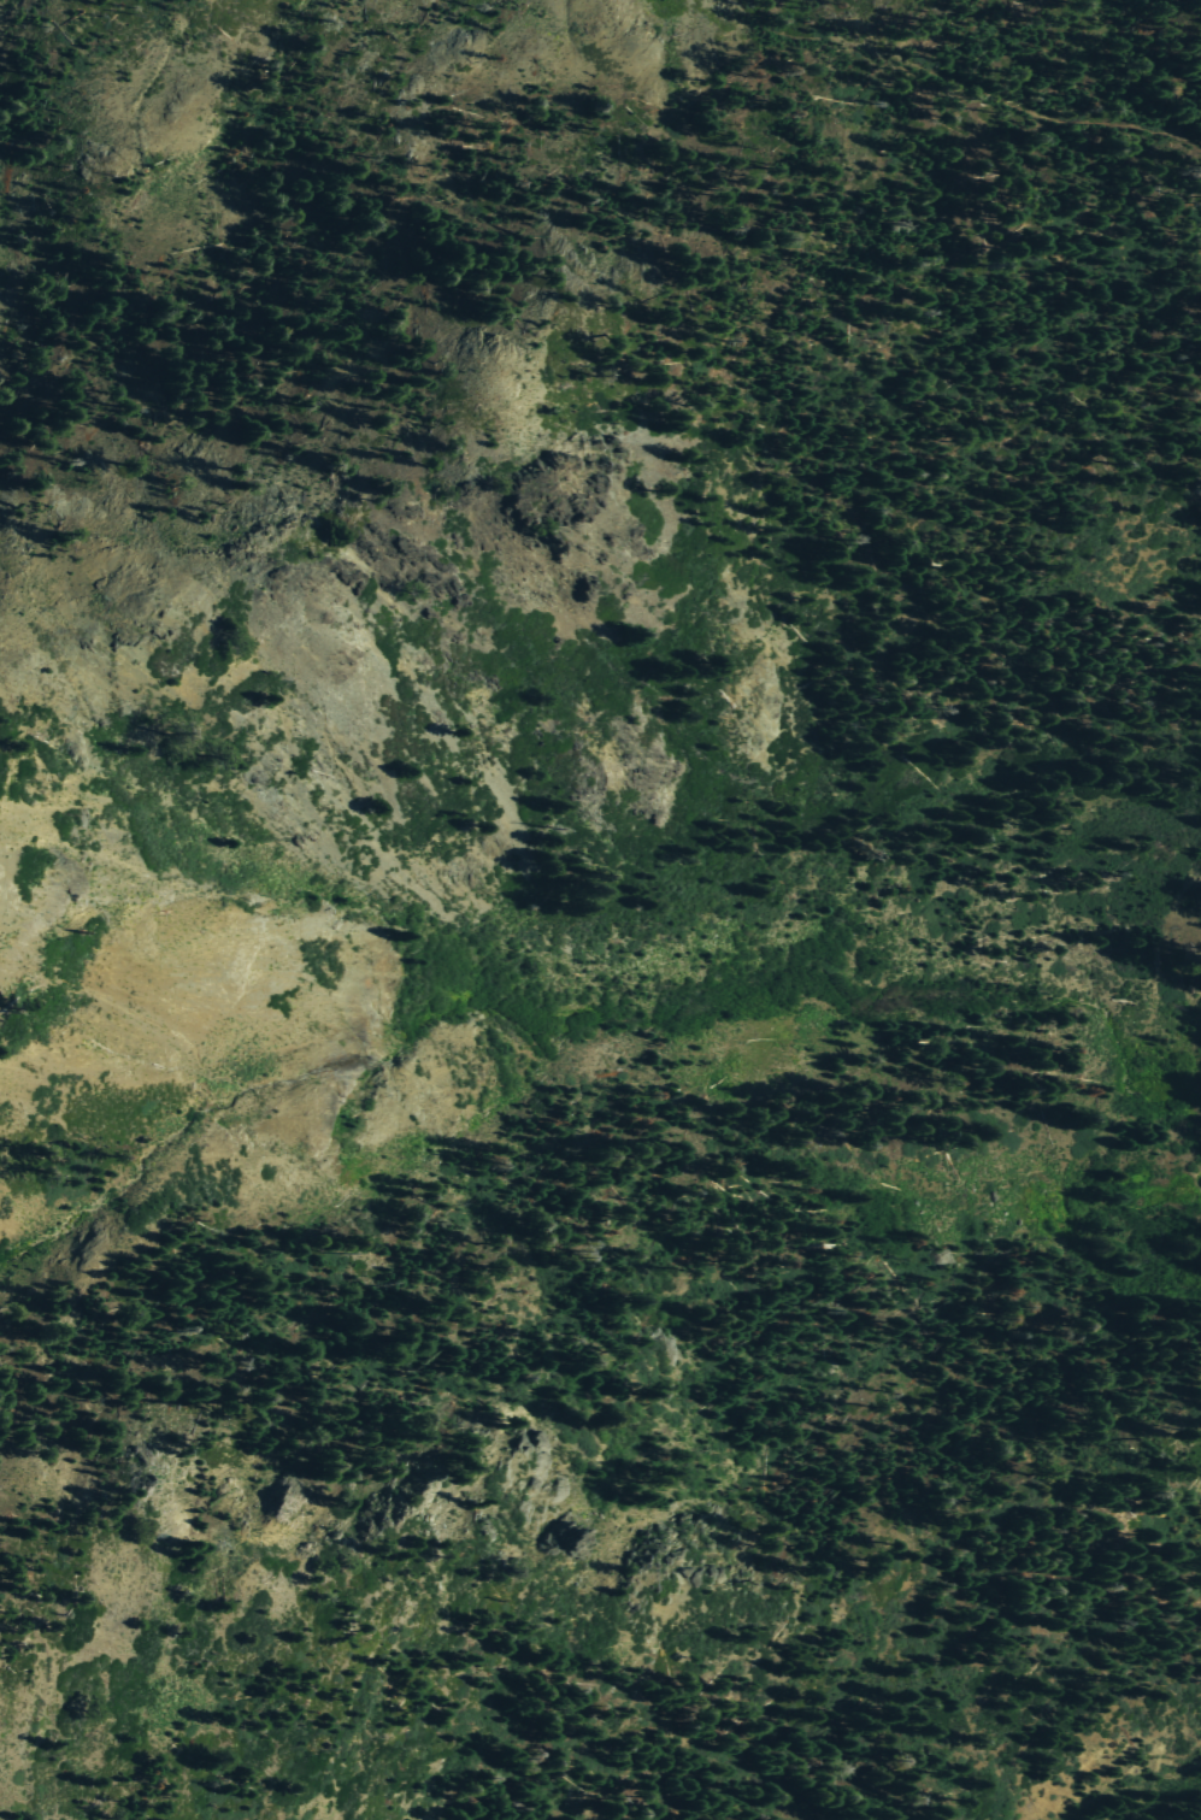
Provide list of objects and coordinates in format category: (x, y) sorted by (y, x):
road: (946, 82)
road: (1190, 130)
road: (1190, 146)

